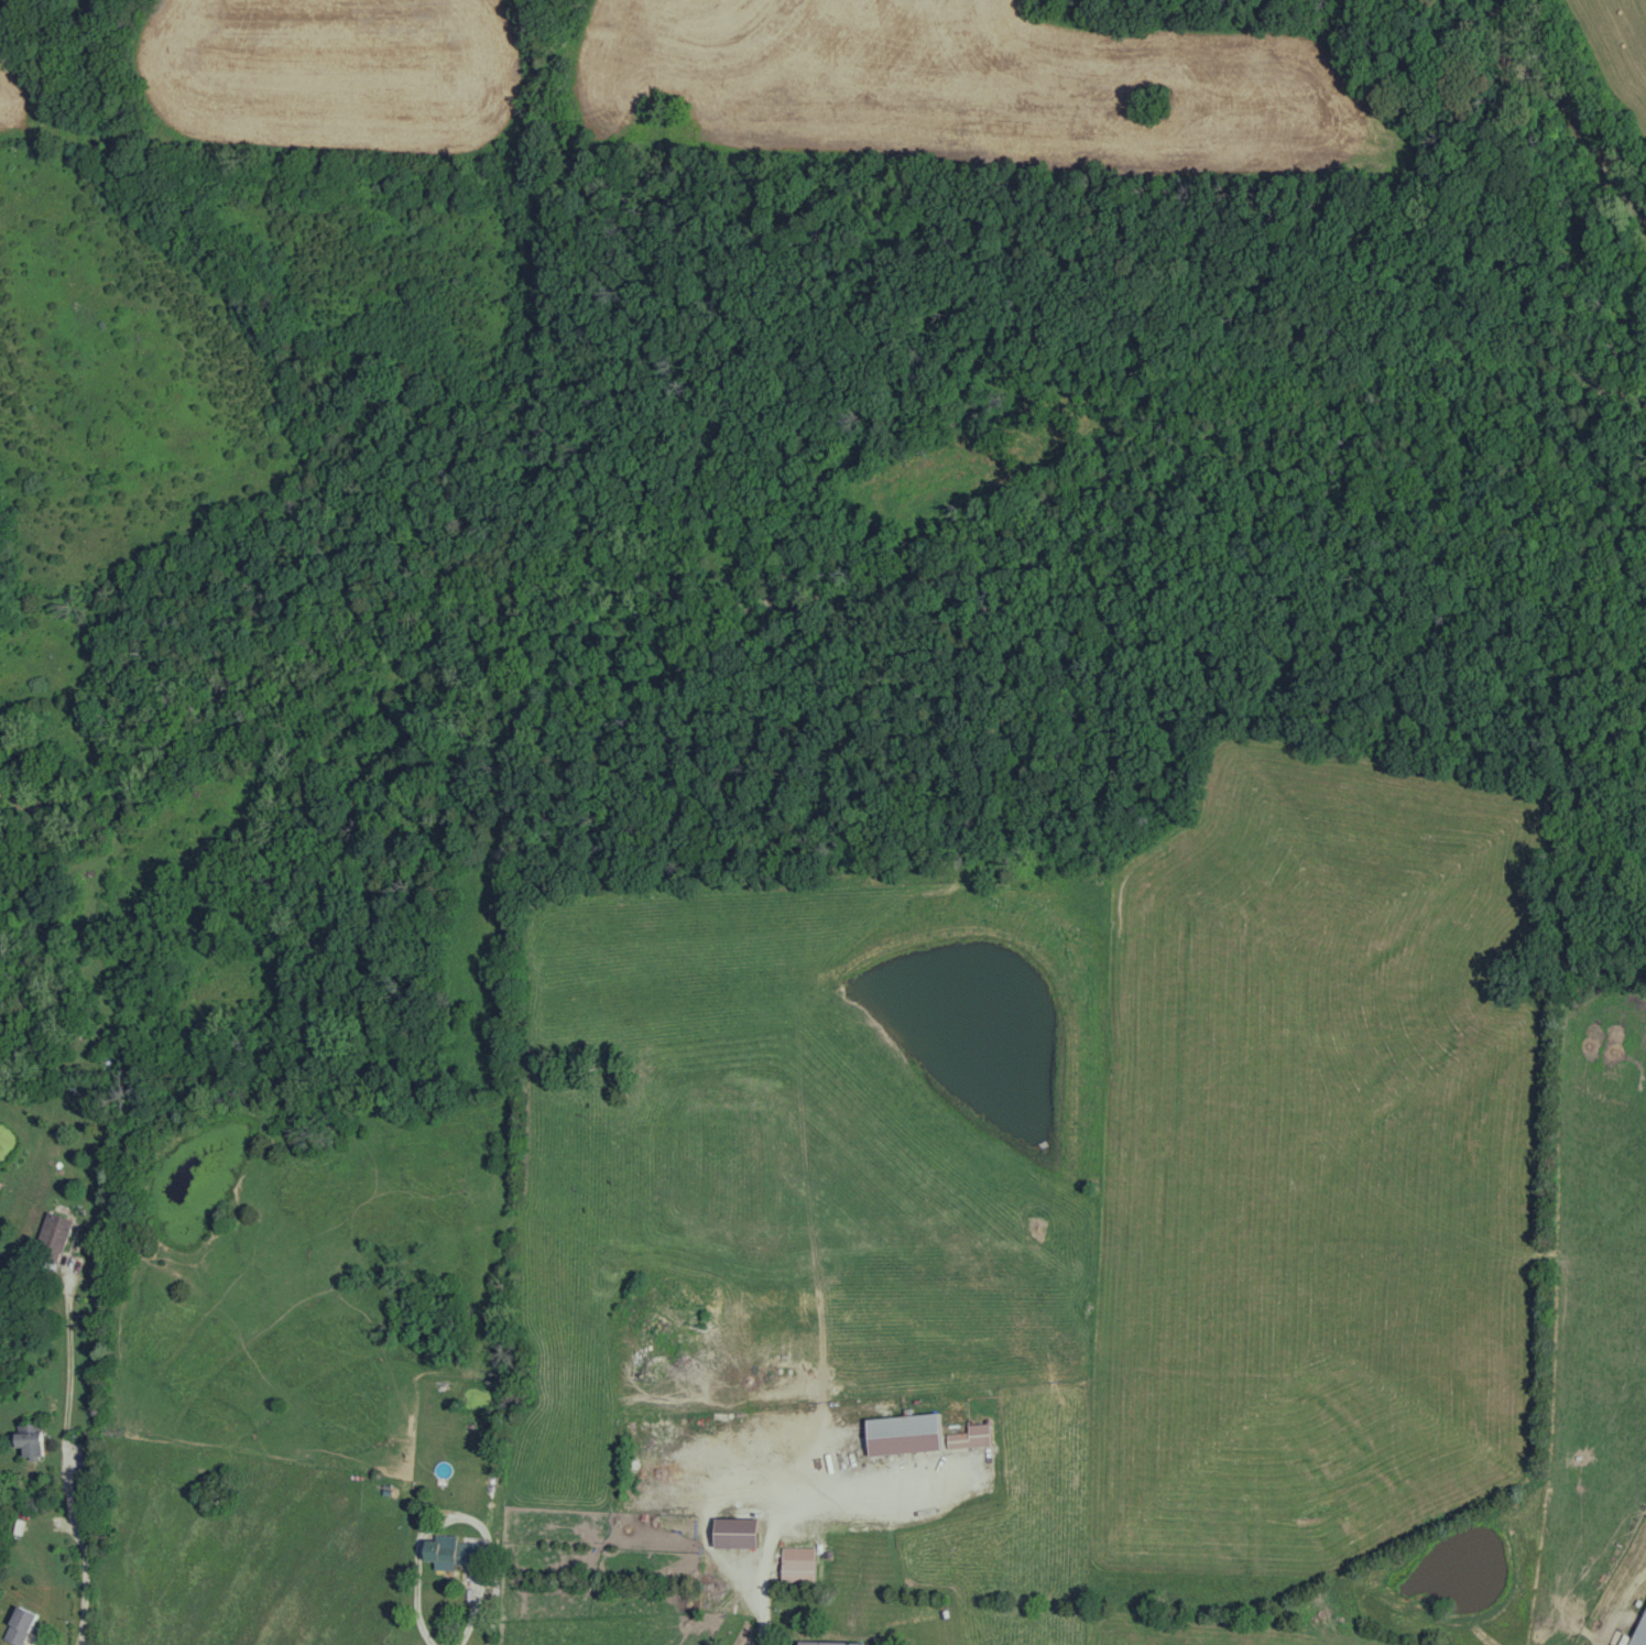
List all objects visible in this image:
building: (53, 1237)
building: (759, 1326)
building: (904, 1435)
building: (971, 1438)
building: (31, 1440)
road: (73, 1461)
building: (663, 1472)
road: (829, 1482)
road: (699, 1513)
building: (738, 1533)
road: (417, 1537)
building: (451, 1555)
building: (800, 1565)
road: (472, 1604)
road: (759, 1606)
building: (21, 1626)
building: (1642, 1634)
building: (831, 1644)

